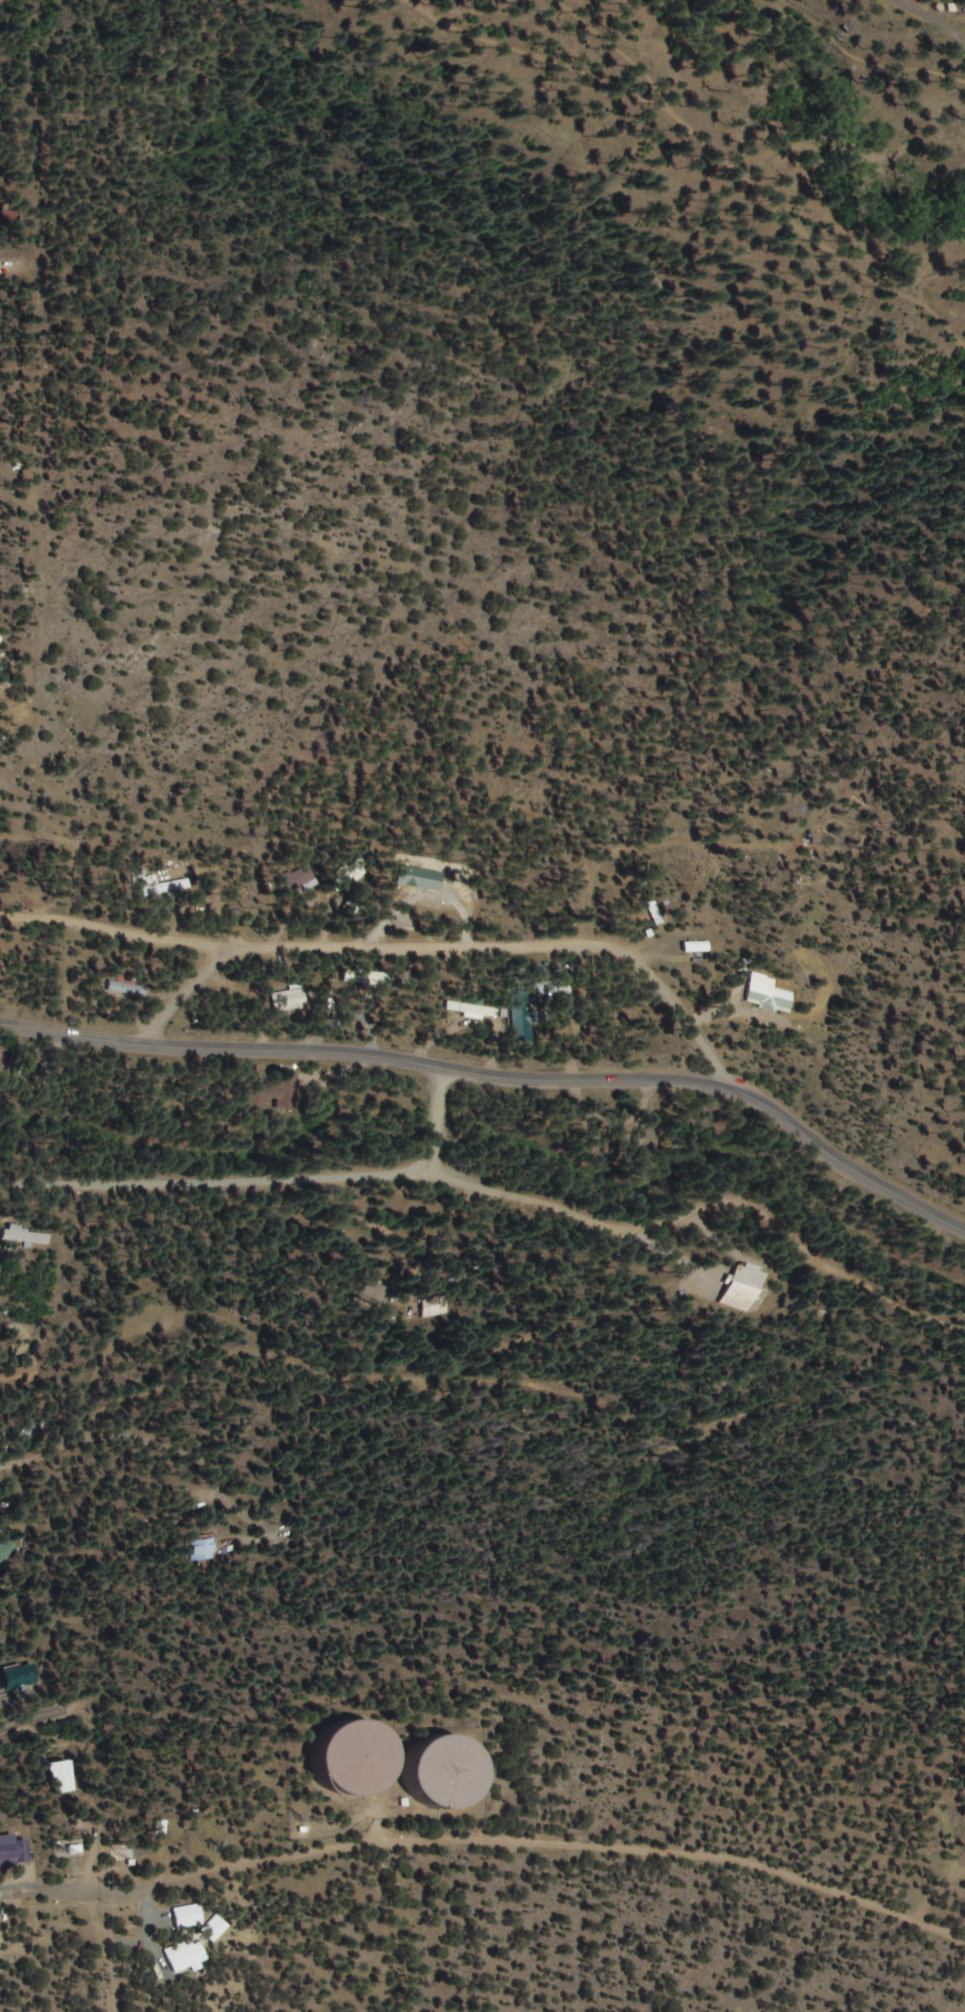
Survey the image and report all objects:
building: (297, 882)
building: (160, 889)
road: (404, 946)
building: (702, 948)
building: (122, 988)
building: (766, 995)
road: (183, 998)
building: (289, 1000)
building: (476, 1010)
building: (521, 1018)
building: (5, 1058)
road: (501, 1074)
building: (279, 1092)
road: (421, 1134)
building: (652, 1135)
road: (441, 1203)
building: (26, 1237)
building: (744, 1288)
building: (441, 1308)
building: (27, 1375)
road: (51, 1417)
road: (543, 1476)
road: (178, 1495)
building: (6, 1550)
building: (204, 1550)
road: (582, 1564)
road: (49, 1697)
building: (356, 1759)
water tower: (357, 1759)
water tower: (447, 1772)
building: (447, 1773)
building: (62, 1777)
road: (487, 1848)
building: (13, 1851)

